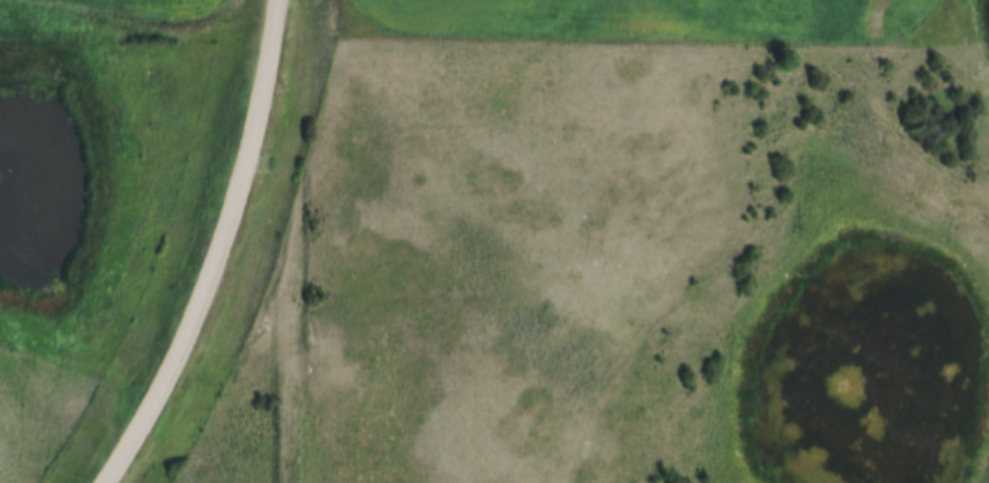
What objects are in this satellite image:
road: (216, 250)

